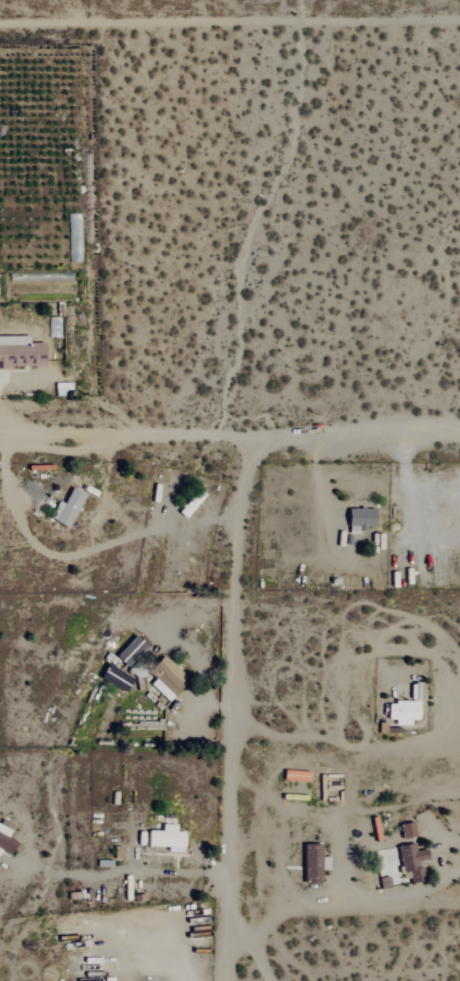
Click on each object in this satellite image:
road: (230, 20)
building: (20, 353)
road: (3, 378)
road: (230, 438)
road: (411, 488)
road: (105, 489)
road: (320, 492)
building: (65, 509)
building: (359, 519)
road: (95, 520)
road: (85, 547)
road: (377, 647)
building: (129, 651)
road: (197, 664)
building: (114, 678)
building: (165, 678)
road: (243, 709)
building: (401, 712)
road: (353, 742)
road: (323, 815)
building: (406, 830)
building: (165, 838)
road: (282, 863)
building: (311, 864)
road: (177, 870)
road: (347, 894)
road: (256, 952)

